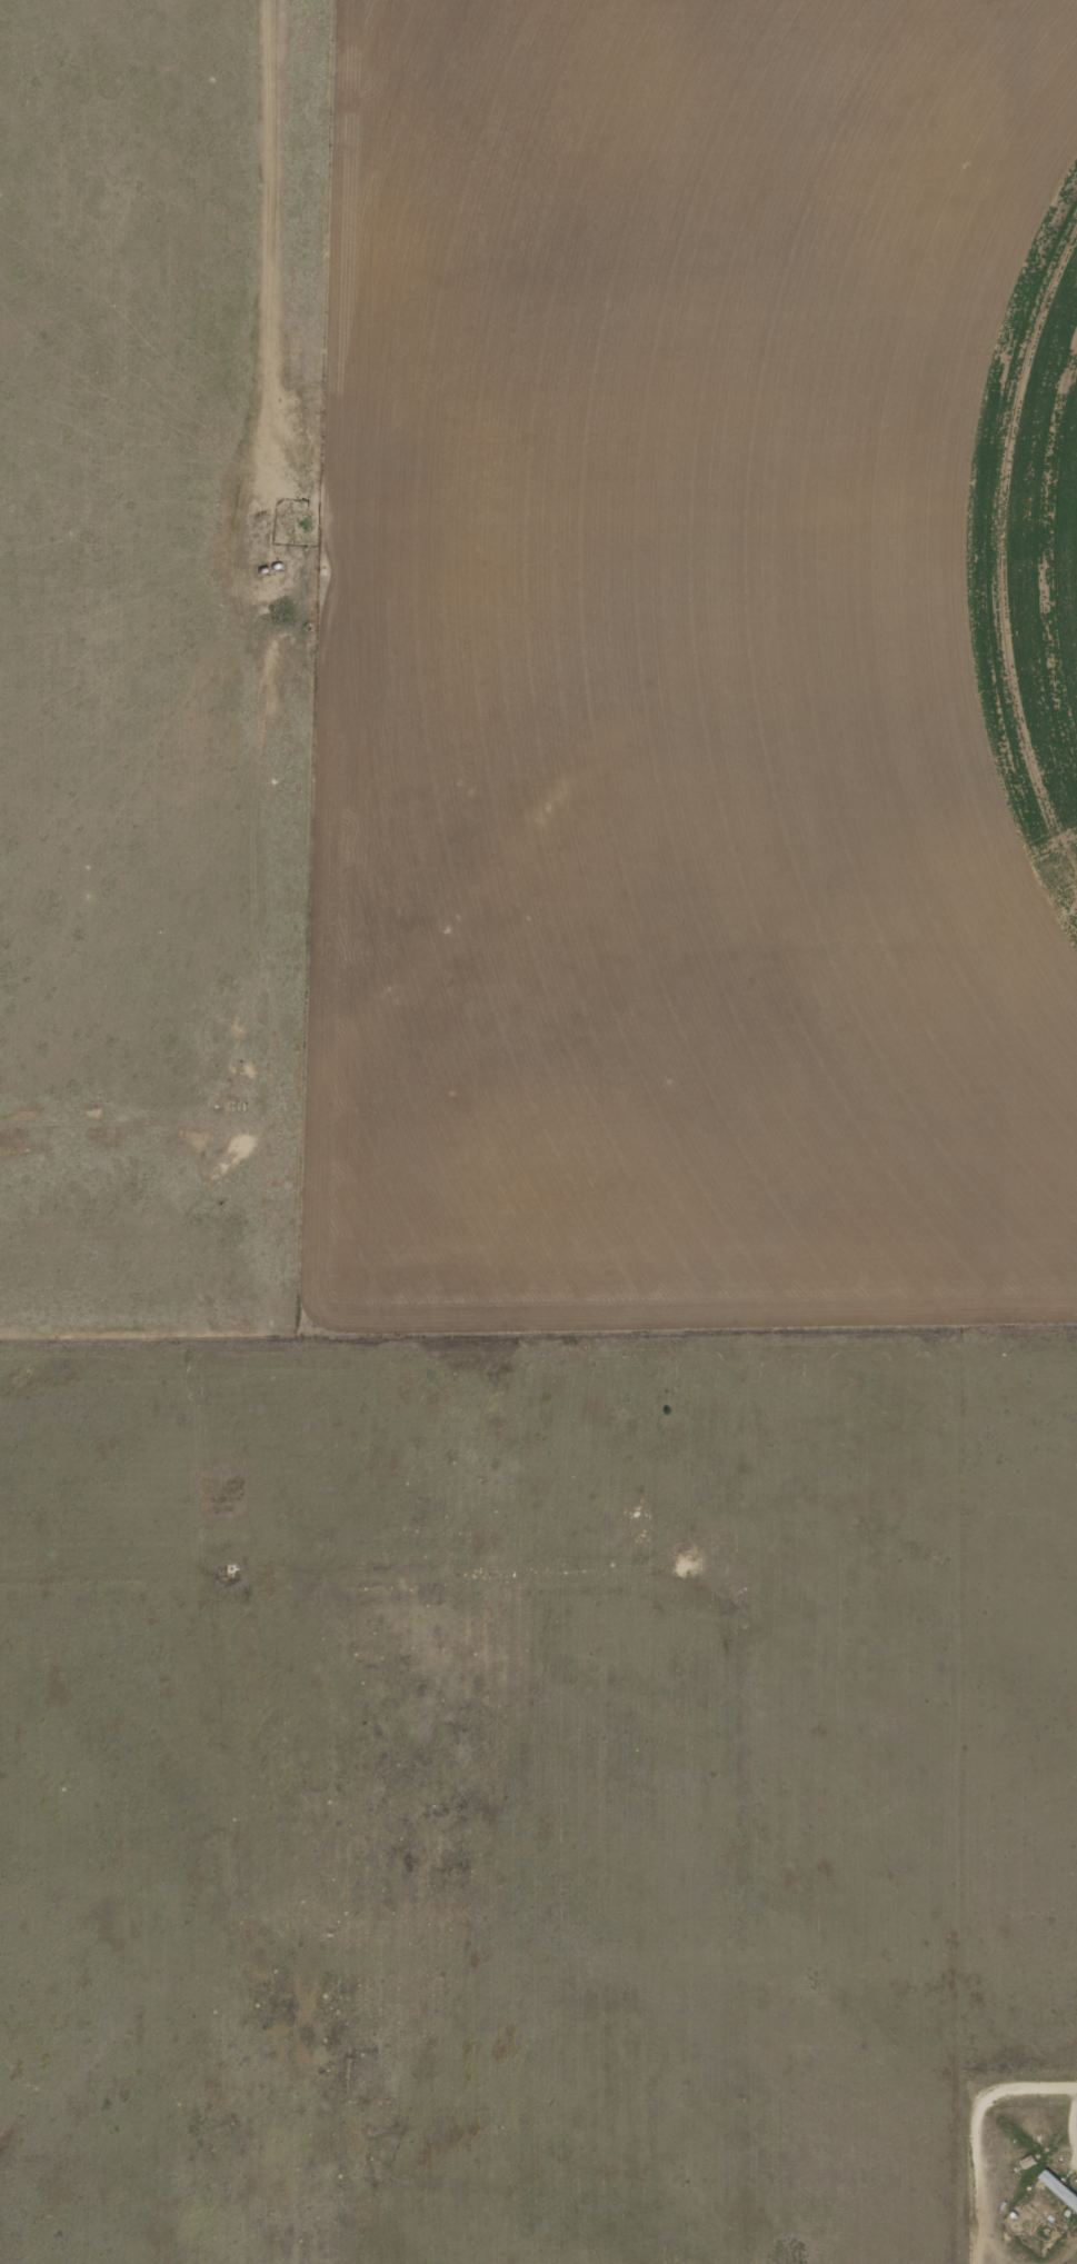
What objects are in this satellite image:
road: (1038, 2088)
building: (1061, 2186)

